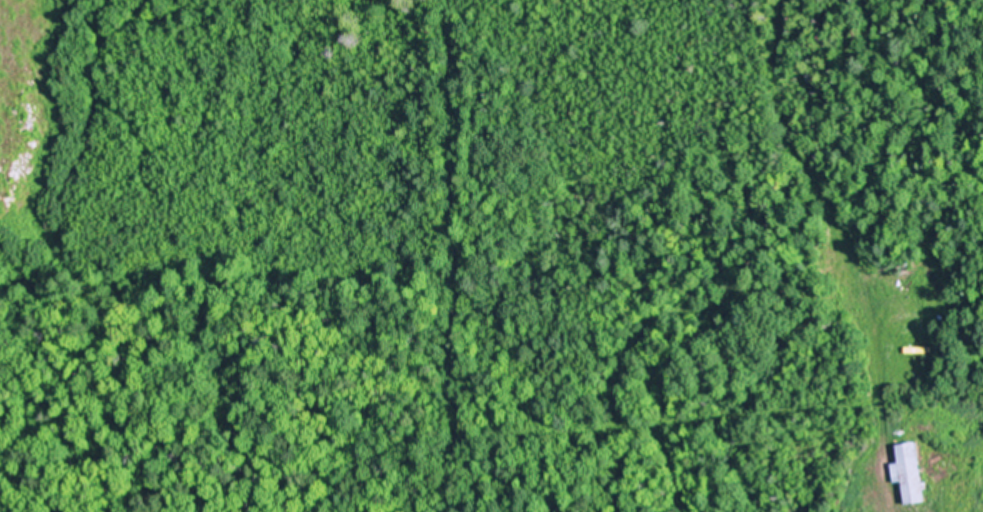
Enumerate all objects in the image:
road: (883, 425)
building: (910, 475)

